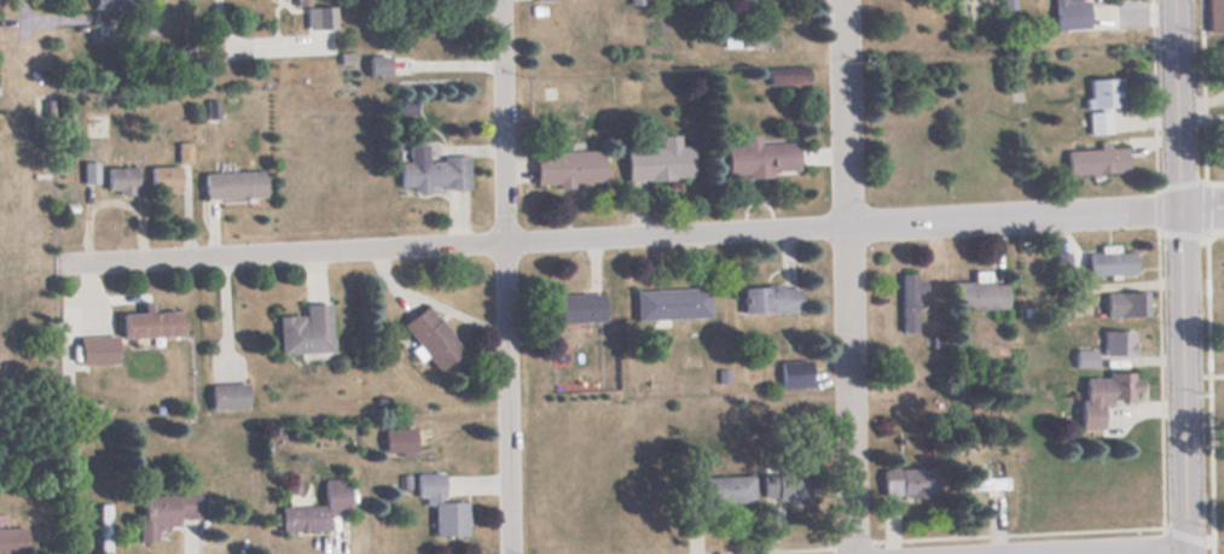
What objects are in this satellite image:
building: (301, 1)
building: (109, 4)
building: (1068, 12)
building: (1214, 14)
building: (743, 33)
building: (375, 65)
building: (784, 74)
building: (1101, 101)
building: (756, 157)
building: (655, 159)
building: (1095, 159)
building: (564, 167)
building: (430, 170)
building: (88, 173)
building: (116, 179)
building: (162, 179)
building: (231, 183)
road: (1201, 205)
road: (617, 237)
building: (1108, 262)
road: (501, 276)
road: (847, 276)
road: (1179, 276)
building: (976, 295)
building: (768, 298)
building: (909, 302)
building: (669, 303)
building: (1123, 303)
building: (573, 308)
building: (145, 322)
building: (302, 330)
building: (428, 336)
building: (1114, 342)
building: (94, 349)
building: (226, 395)
building: (1100, 395)
building: (906, 480)
building: (976, 480)
building: (783, 486)
building: (715, 490)
building: (439, 505)
building: (312, 508)
building: (161, 511)
building: (11, 540)
road: (1123, 550)

